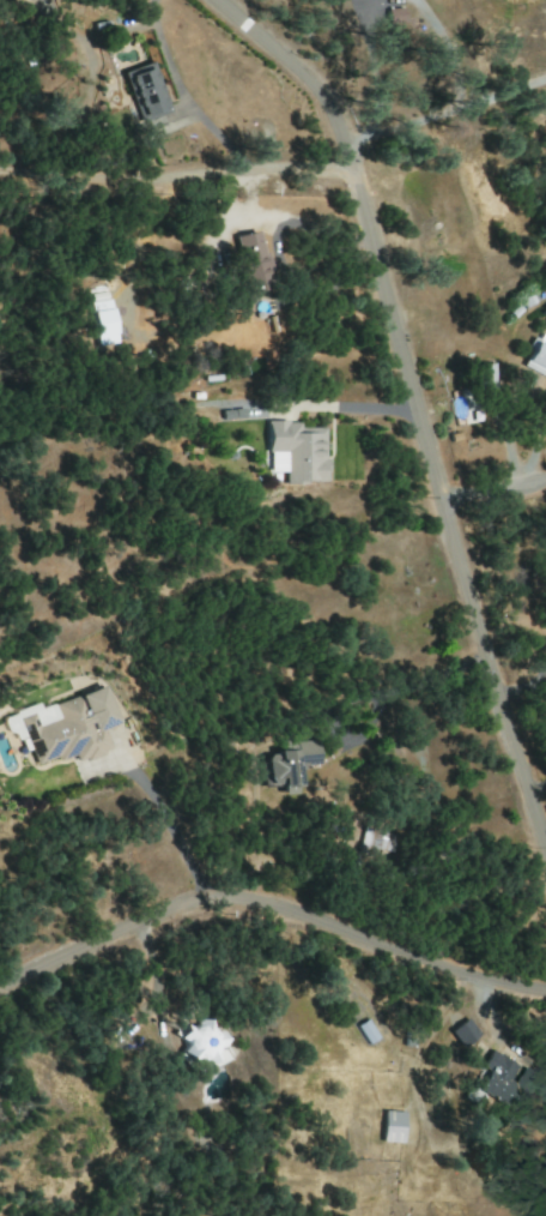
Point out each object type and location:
building: (392, 16)
road: (449, 47)
building: (144, 92)
road: (442, 108)
road: (174, 174)
building: (249, 263)
building: (99, 319)
building: (536, 356)
building: (485, 375)
building: (244, 409)
road: (417, 410)
building: (296, 451)
road: (492, 492)
road: (375, 706)
building: (63, 727)
building: (287, 764)
road: (172, 830)
building: (374, 842)
road: (269, 903)
building: (365, 1031)
building: (463, 1033)
building: (204, 1043)
building: (504, 1080)
building: (390, 1127)

